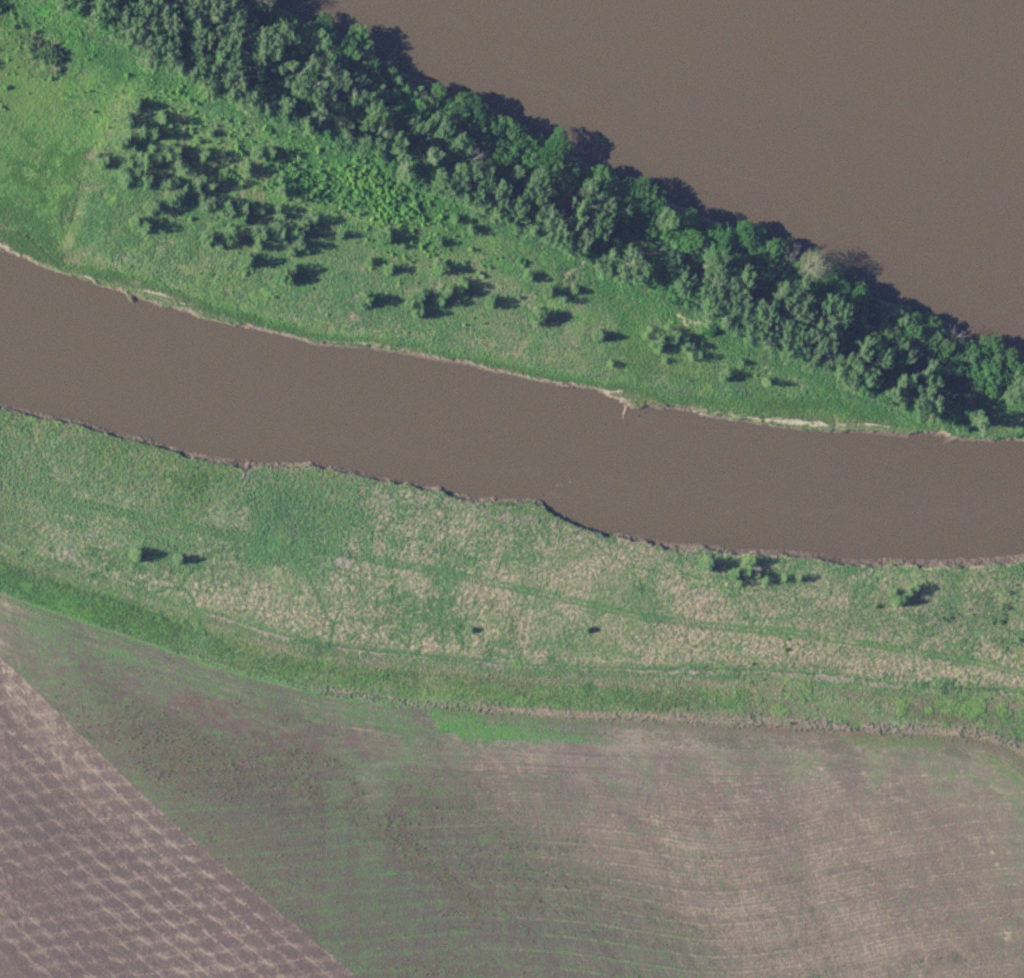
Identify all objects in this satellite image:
river: (863, 22)
river: (898, 60)

